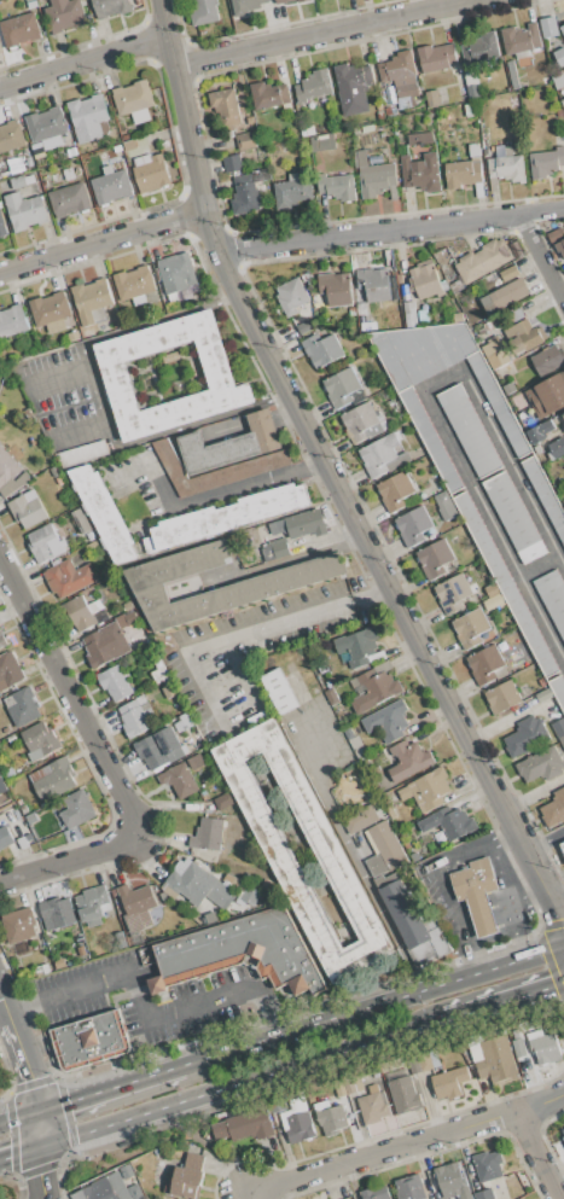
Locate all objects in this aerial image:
building: (302, 0)
building: (280, 1)
building: (245, 6)
building: (111, 7)
building: (203, 11)
building: (64, 14)
building: (548, 27)
building: (19, 29)
building: (563, 29)
road: (335, 31)
building: (534, 34)
building: (516, 39)
building: (481, 48)
building: (559, 56)
building: (436, 57)
road: (82, 62)
building: (400, 74)
building: (513, 75)
building: (558, 80)
building: (313, 86)
building: (353, 87)
building: (472, 91)
building: (269, 94)
building: (432, 98)
building: (134, 100)
building: (562, 103)
building: (225, 106)
building: (88, 116)
building: (47, 127)
building: (11, 135)
building: (420, 138)
building: (245, 140)
building: (322, 141)
building: (129, 145)
building: (546, 162)
building: (231, 163)
building: (18, 168)
building: (505, 168)
building: (464, 170)
building: (151, 171)
building: (420, 171)
building: (69, 173)
building: (260, 175)
building: (374, 176)
building: (18, 181)
building: (111, 185)
building: (295, 186)
building: (337, 186)
building: (245, 197)
building: (69, 199)
building: (24, 210)
building: (2, 226)
road: (389, 232)
building: (556, 234)
road: (101, 241)
building: (560, 246)
road: (541, 258)
building: (483, 260)
building: (448, 270)
building: (175, 272)
building: (508, 273)
building: (425, 279)
building: (133, 281)
building: (373, 284)
building: (331, 290)
building: (510, 293)
building: (291, 296)
building: (92, 301)
building: (52, 310)
building: (516, 314)
building: (12, 320)
road: (157, 320)
building: (306, 326)
building: (72, 336)
building: (523, 336)
building: (495, 344)
building: (322, 349)
building: (498, 359)
building: (547, 360)
building: (115, 372)
building: (343, 386)
building: (508, 388)
building: (547, 395)
road: (95, 396)
road: (435, 409)
building: (563, 413)
road: (200, 419)
building: (361, 421)
building: (264, 430)
building: (539, 431)
building: (557, 447)
building: (216, 452)
building: (82, 454)
building: (384, 454)
road: (308, 465)
building: (7, 466)
building: (214, 470)
road: (331, 476)
building: (487, 477)
building: (395, 491)
road: (192, 499)
building: (444, 505)
building: (28, 508)
building: (105, 513)
building: (228, 517)
building: (81, 520)
building: (307, 523)
building: (411, 524)
building: (43, 543)
building: (93, 547)
building: (274, 549)
building: (435, 559)
road: (287, 560)
road: (537, 566)
building: (68, 577)
road: (377, 590)
building: (242, 593)
building: (452, 593)
building: (493, 600)
building: (83, 613)
building: (471, 628)
building: (0, 633)
building: (1, 642)
building: (105, 644)
building: (360, 646)
road: (185, 660)
building: (487, 665)
building: (10, 669)
building: (115, 682)
building: (170, 689)
building: (374, 689)
building: (279, 691)
building: (545, 694)
building: (502, 697)
building: (22, 705)
building: (136, 715)
building: (388, 721)
building: (558, 727)
building: (349, 733)
building: (527, 735)
building: (40, 740)
building: (167, 740)
building: (562, 740)
building: (357, 747)
building: (151, 751)
building: (408, 759)
building: (197, 761)
building: (541, 763)
road: (105, 764)
building: (53, 779)
building: (178, 779)
building: (2, 785)
building: (429, 788)
building: (554, 808)
building: (77, 809)
building: (361, 821)
building: (448, 821)
building: (207, 834)
building: (5, 838)
road: (542, 838)
road: (472, 846)
building: (562, 846)
building: (383, 849)
building: (328, 850)
road: (360, 867)
building: (196, 885)
road: (443, 890)
building: (477, 892)
building: (248, 895)
road: (517, 898)
road: (558, 903)
building: (93, 904)
building: (136, 906)
building: (402, 909)
road: (479, 909)
building: (57, 912)
road: (460, 914)
traffic signals: (557, 916)
building: (19, 924)
road: (463, 944)
building: (429, 947)
building: (244, 951)
building: (157, 984)
traffic signals: (550, 986)
road: (502, 1001)
road: (372, 1005)
road: (4, 1006)
road: (144, 1012)
building: (91, 1040)
building: (519, 1047)
building: (545, 1048)
building: (424, 1060)
building: (496, 1060)
road: (24, 1061)
building: (413, 1064)
traffic signals: (30, 1078)
road: (239, 1082)
building: (357, 1082)
building: (449, 1082)
building: (349, 1084)
building: (339, 1087)
road: (109, 1088)
building: (403, 1095)
traffic signals: (68, 1101)
road: (543, 1102)
building: (277, 1104)
building: (374, 1105)
road: (17, 1117)
building: (332, 1118)
building: (297, 1121)
building: (245, 1125)
building: (562, 1133)
road: (19, 1152)
road: (41, 1154)
road: (384, 1154)
road: (543, 1154)
traffic signals: (7, 1157)
building: (488, 1165)
building: (127, 1171)
traffic signals: (43, 1172)
building: (186, 1177)
building: (453, 1181)
building: (409, 1188)
building: (111, 1189)
building: (376, 1193)
building: (484, 1194)
building: (341, 1198)

